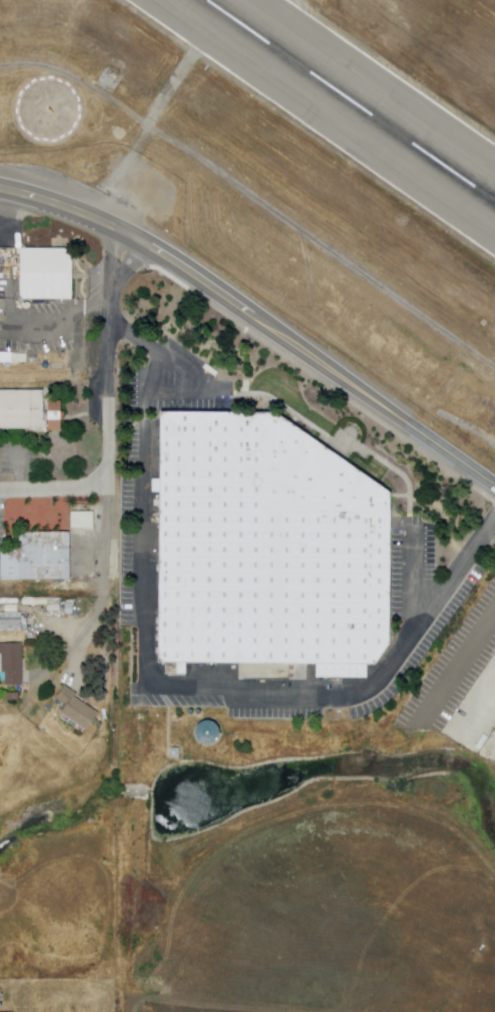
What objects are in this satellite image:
airport runway: (350, 100)
road: (153, 109)
building: (41, 110)
airport: (302, 160)
park: (119, 179)
road: (255, 197)
building: (48, 261)
building: (48, 287)
road: (256, 317)
building: (6, 358)
building: (22, 360)
road: (200, 385)
road: (219, 391)
building: (30, 411)
road: (105, 412)
road: (333, 441)
road: (335, 448)
building: (153, 484)
road: (52, 486)
road: (397, 494)
road: (488, 534)
road: (143, 536)
building: (265, 544)
building: (46, 555)
building: (11, 564)
road: (420, 615)
building: (12, 625)
road: (458, 660)
road: (60, 662)
building: (11, 665)
road: (79, 669)
building: (338, 669)
parking lot: (459, 682)
road: (291, 692)
building: (13, 697)
road: (479, 705)
building: (76, 708)
building: (171, 751)
crop: (328, 915)
building: (1, 996)

